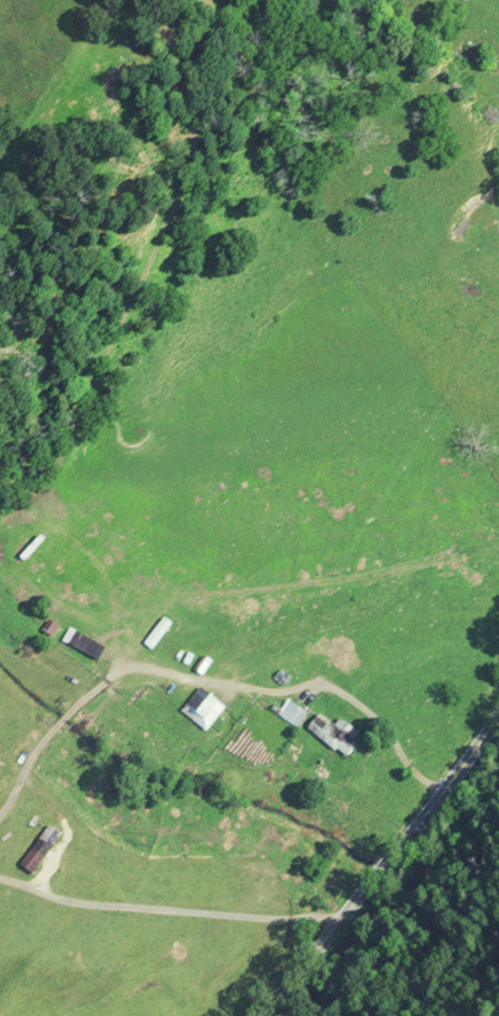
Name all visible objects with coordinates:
building: (83, 642)
building: (205, 712)
building: (292, 713)
building: (334, 733)
building: (26, 741)
building: (40, 848)
road: (379, 870)
road: (167, 909)

